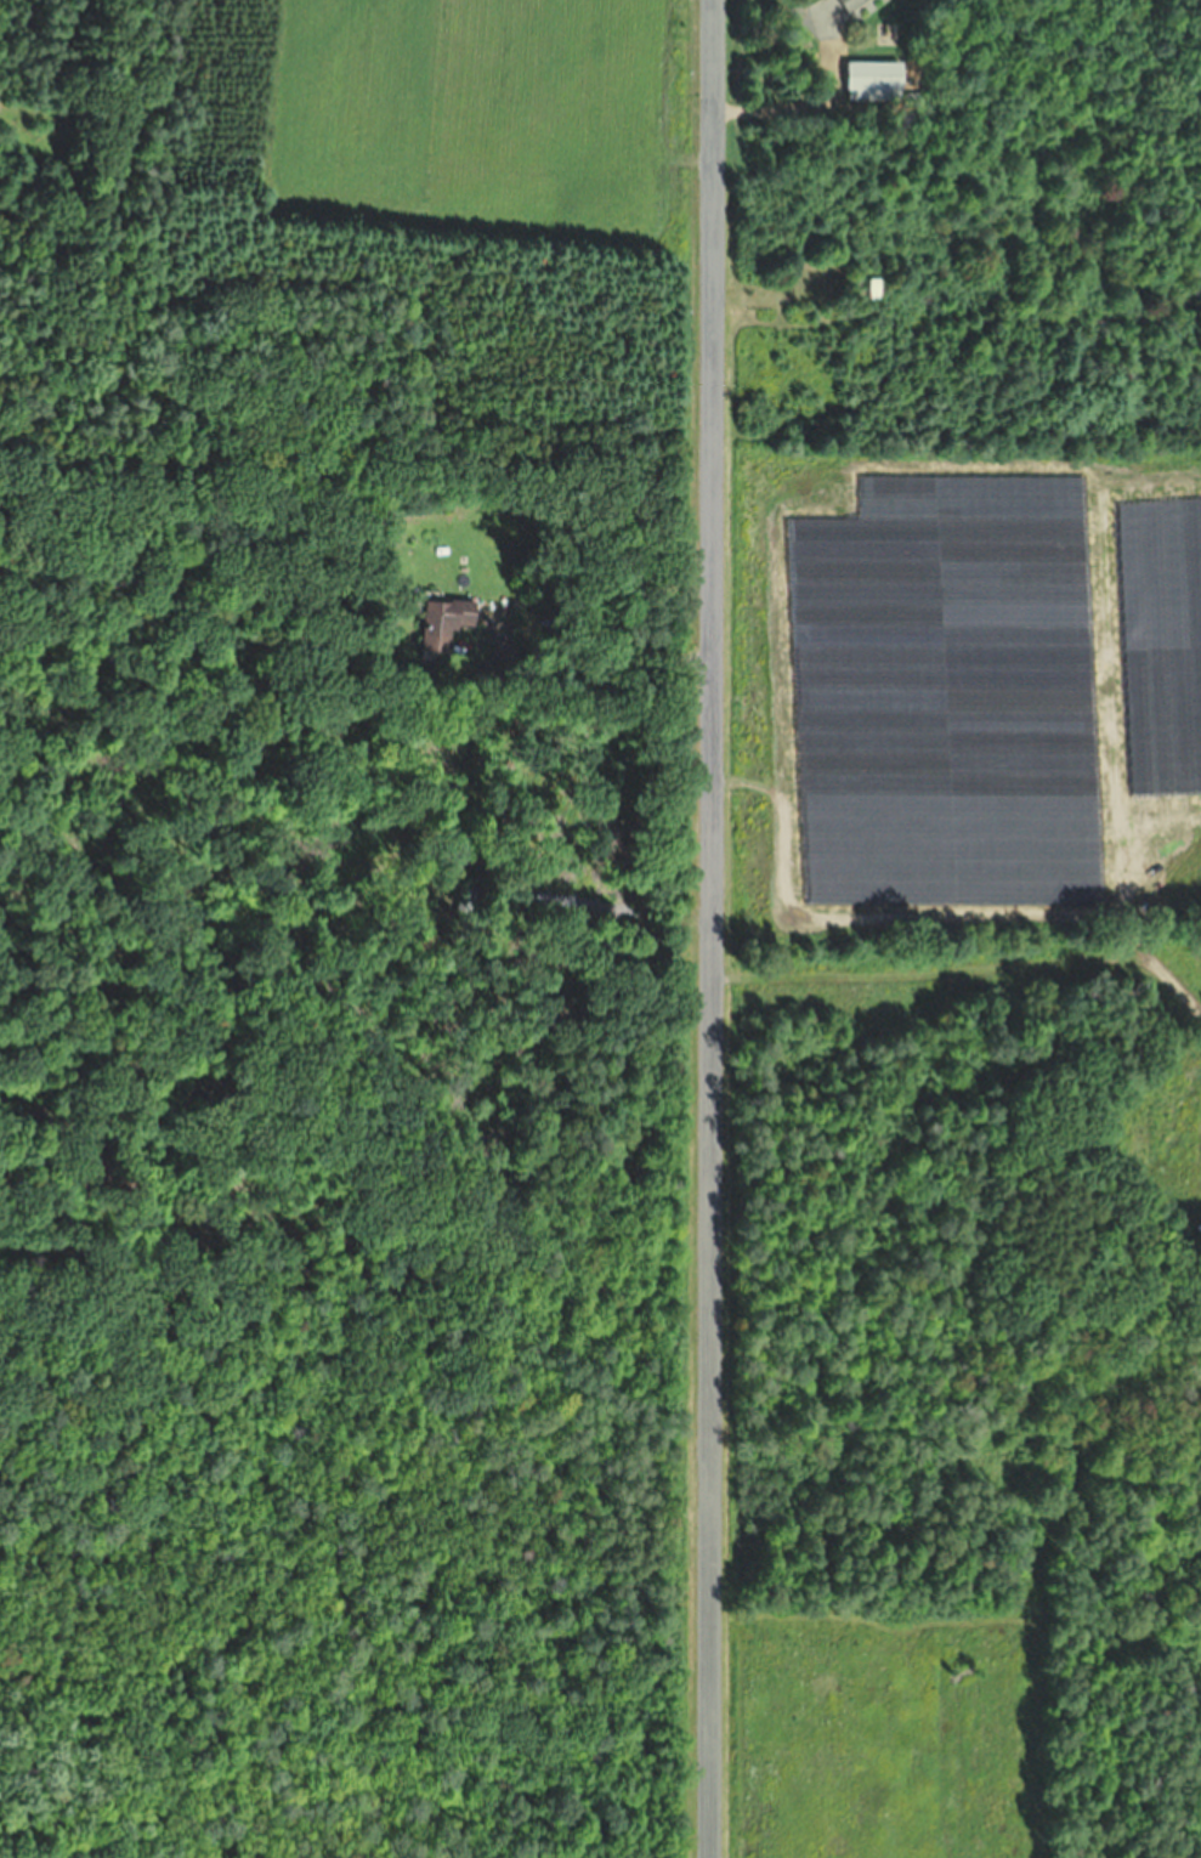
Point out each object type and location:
building: (852, 4)
building: (872, 80)
crop: (485, 121)
building: (876, 288)
building: (446, 621)
crop: (959, 732)
road: (712, 928)
crop: (1173, 1132)
crop: (886, 1733)

